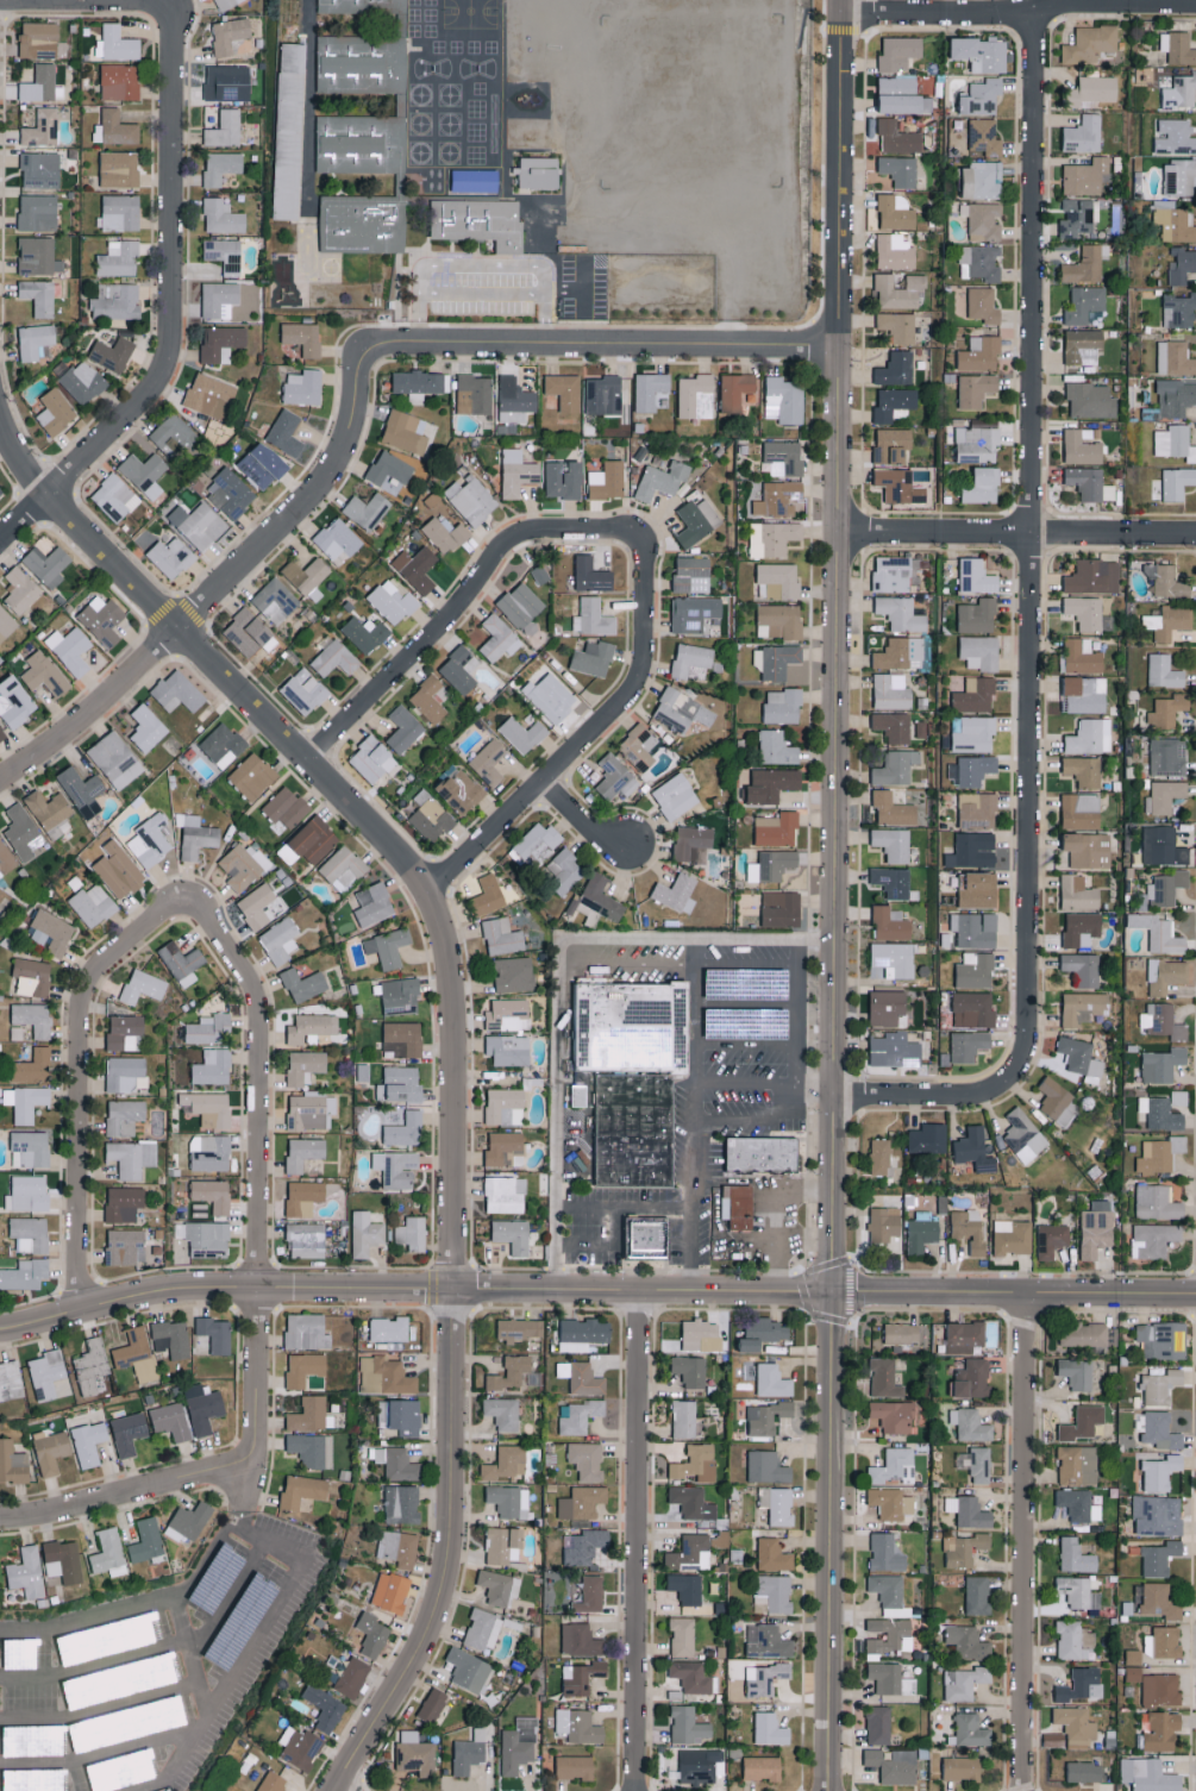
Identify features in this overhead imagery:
road: (162, 1)
building: (226, 2)
building: (361, 8)
road: (1019, 13)
building: (228, 33)
building: (37, 36)
building: (117, 43)
building: (1089, 43)
building: (1177, 46)
building: (898, 52)
building: (982, 52)
building: (361, 68)
building: (120, 81)
building: (227, 82)
building: (42, 84)
building: (1092, 89)
building: (1181, 92)
building: (902, 95)
building: (982, 96)
building: (42, 127)
building: (115, 127)
building: (225, 129)
building: (1083, 134)
building: (984, 136)
building: (1173, 136)
building: (897, 137)
building: (289, 138)
building: (359, 149)
building: (221, 165)
building: (40, 169)
building: (118, 169)
building: (898, 169)
building: (538, 171)
building: (1084, 176)
building: (1179, 176)
building: (475, 180)
building: (982, 180)
building: (38, 212)
building: (120, 212)
building: (895, 212)
building: (223, 217)
building: (1076, 217)
building: (983, 220)
building: (476, 224)
building: (1175, 224)
building: (361, 226)
building: (616, 240)
building: (895, 251)
building: (224, 253)
building: (38, 255)
building: (118, 258)
building: (979, 262)
building: (1084, 265)
building: (1181, 265)
road: (483, 269)
parking lot: (507, 288)
building: (898, 290)
building: (39, 295)
road: (519, 295)
building: (219, 299)
building: (290, 299)
building: (115, 300)
road: (169, 302)
building: (983, 303)
building: (1083, 303)
road: (586, 306)
building: (1179, 309)
road: (419, 318)
road: (547, 319)
building: (897, 326)
building: (302, 337)
building: (221, 343)
road: (601, 343)
building: (1083, 346)
building: (112, 352)
building: (979, 353)
building: (1175, 358)
building: (895, 369)
building: (83, 381)
building: (420, 383)
building: (303, 387)
building: (734, 389)
building: (975, 389)
building: (564, 390)
building: (651, 390)
building: (474, 394)
building: (209, 395)
building: (603, 395)
building: (695, 395)
building: (1175, 397)
building: (783, 399)
building: (515, 400)
building: (1090, 400)
building: (894, 403)
building: (55, 411)
building: (408, 431)
building: (174, 432)
building: (286, 432)
building: (977, 440)
building: (1175, 442)
building: (893, 444)
building: (1081, 447)
building: (783, 457)
building: (262, 466)
building: (389, 468)
building: (145, 472)
building: (516, 472)
building: (563, 478)
building: (607, 480)
building: (660, 480)
building: (1176, 482)
building: (1089, 483)
building: (898, 484)
building: (982, 486)
building: (1, 491)
building: (230, 491)
building: (114, 496)
building: (777, 497)
building: (471, 499)
building: (367, 509)
building: (696, 521)
building: (194, 524)
road: (1015, 531)
building: (445, 533)
building: (772, 538)
building: (338, 540)
building: (171, 556)
building: (48, 564)
building: (417, 568)
building: (691, 572)
building: (306, 574)
building: (539, 574)
building: (891, 574)
building: (588, 575)
building: (976, 576)
building: (1092, 576)
building: (778, 580)
building: (1166, 581)
road: (218, 587)
building: (20, 590)
building: (275, 601)
building: (392, 601)
road: (455, 605)
building: (521, 607)
building: (1085, 612)
building: (693, 613)
building: (901, 613)
building: (977, 615)
building: (593, 618)
building: (102, 620)
building: (778, 620)
building: (1167, 621)
building: (6, 624)
building: (246, 632)
building: (364, 633)
road: (1029, 637)
building: (497, 638)
road: (835, 646)
building: (70, 649)
building: (979, 652)
building: (900, 653)
building: (1081, 656)
building: (334, 658)
building: (591, 658)
building: (775, 659)
building: (691, 660)
building: (458, 669)
building: (1164, 671)
building: (44, 674)
building: (305, 690)
building: (891, 690)
building: (177, 691)
building: (1083, 694)
building: (975, 695)
building: (551, 697)
building: (428, 700)
building: (14, 701)
building: (782, 704)
building: (1167, 709)
building: (681, 710)
building: (893, 726)
building: (148, 727)
building: (403, 728)
building: (521, 733)
road: (588, 733)
building: (1, 734)
building: (975, 734)
building: (1089, 737)
building: (223, 744)
building: (639, 746)
building: (775, 747)
building: (1167, 756)
building: (115, 759)
building: (374, 759)
building: (488, 762)
building: (895, 768)
building: (971, 770)
building: (1084, 770)
building: (252, 776)
building: (615, 777)
building: (771, 784)
building: (458, 789)
building: (82, 790)
building: (675, 796)
building: (1163, 796)
road: (347, 801)
building: (893, 808)
building: (284, 809)
building: (976, 809)
building: (1081, 810)
building: (49, 812)
building: (431, 815)
road: (582, 819)
building: (776, 828)
building: (23, 832)
building: (195, 835)
building: (150, 840)
building: (311, 841)
building: (538, 843)
building: (893, 844)
building: (1161, 846)
building: (1088, 848)
building: (970, 850)
building: (6, 858)
building: (244, 865)
building: (771, 865)
building: (343, 869)
building: (118, 870)
building: (564, 870)
building: (891, 881)
building: (977, 890)
building: (676, 893)
building: (1078, 893)
building: (488, 895)
building: (599, 900)
building: (93, 904)
building: (257, 904)
building: (374, 904)
building: (781, 908)
building: (890, 923)
building: (1081, 928)
building: (973, 929)
building: (51, 932)
building: (1158, 933)
building: (501, 935)
building: (280, 939)
building: (388, 947)
road: (795, 953)
building: (893, 959)
building: (182, 963)
road: (675, 965)
building: (1083, 967)
building: (973, 970)
building: (513, 972)
building: (1166, 975)
building: (32, 976)
road: (556, 976)
building: (303, 984)
building: (143, 985)
building: (400, 996)
road: (746, 1007)
building: (1083, 1007)
building: (888, 1008)
building: (971, 1008)
building: (507, 1014)
building: (33, 1017)
building: (1163, 1020)
road: (793, 1027)
building: (208, 1028)
building: (311, 1029)
building: (631, 1031)
building: (126, 1032)
building: (402, 1039)
building: (968, 1045)
road: (745, 1047)
building: (508, 1048)
building: (894, 1048)
building: (1079, 1056)
building: (1161, 1064)
road: (77, 1065)
building: (305, 1065)
building: (33, 1066)
building: (212, 1066)
building: (126, 1073)
building: (400, 1084)
road: (744, 1085)
road: (810, 1091)
building: (578, 1095)
building: (1178, 1096)
building: (25, 1102)
building: (1058, 1102)
building: (505, 1106)
building: (208, 1108)
building: (311, 1110)
building: (1160, 1113)
road: (695, 1115)
building: (124, 1116)
road: (759, 1121)
building: (405, 1129)
building: (632, 1134)
building: (1023, 1135)
building: (926, 1140)
building: (503, 1147)
building: (30, 1148)
building: (973, 1150)
building: (209, 1152)
building: (303, 1152)
building: (1161, 1154)
building: (879, 1156)
building: (132, 1157)
building: (760, 1158)
building: (396, 1167)
road: (257, 1178)
building: (27, 1192)
building: (212, 1194)
building: (505, 1194)
building: (303, 1197)
building: (1156, 1202)
building: (124, 1203)
road: (622, 1208)
building: (199, 1209)
building: (739, 1209)
road: (779, 1215)
building: (883, 1222)
building: (969, 1228)
building: (1096, 1228)
building: (367, 1232)
building: (30, 1233)
building: (412, 1233)
building: (513, 1235)
building: (1012, 1236)
building: (208, 1239)
building: (1051, 1239)
building: (1153, 1239)
building: (306, 1240)
building: (645, 1242)
building: (125, 1246)
road: (606, 1246)
building: (25, 1273)
road: (223, 1288)
road: (1014, 1290)
road: (612, 1291)
road: (802, 1291)
traffic signals: (832, 1292)
building: (389, 1328)
building: (520, 1328)
building: (307, 1330)
building: (901, 1332)
building: (215, 1333)
building: (582, 1333)
building: (762, 1333)
building: (1083, 1333)
building: (702, 1334)
building: (964, 1336)
building: (171, 1338)
building: (1161, 1339)
building: (137, 1353)
building: (92, 1365)
building: (306, 1370)
building: (690, 1370)
building: (511, 1372)
building: (1076, 1372)
building: (49, 1374)
building: (386, 1374)
building: (581, 1376)
building: (884, 1377)
building: (971, 1378)
building: (11, 1380)
building: (772, 1380)
building: (1160, 1385)
building: (203, 1407)
building: (503, 1411)
building: (311, 1414)
building: (401, 1415)
building: (577, 1415)
building: (895, 1415)
building: (766, 1416)
building: (684, 1419)
building: (171, 1420)
building: (1083, 1422)
building: (970, 1423)
building: (1160, 1429)
building: (129, 1433)
building: (89, 1441)
building: (309, 1447)
building: (51, 1449)
building: (587, 1459)
building: (12, 1461)
building: (396, 1463)
building: (506, 1463)
building: (696, 1463)
building: (976, 1463)
building: (1077, 1464)
building: (895, 1465)
building: (766, 1466)
building: (1160, 1471)
building: (302, 1489)
road: (125, 1495)
building: (509, 1499)
building: (582, 1501)
building: (691, 1502)
building: (890, 1502)
building: (401, 1503)
building: (777, 1504)
building: (1078, 1504)
building: (968, 1510)
building: (1154, 1516)
building: (188, 1521)
building: (146, 1539)
road: (217, 1540)
road: (1021, 1540)
road: (635, 1541)
road: (829, 1541)
road: (259, 1542)
building: (503, 1545)
building: (583, 1545)
building: (397, 1547)
building: (964, 1547)
building: (690, 1552)
building: (885, 1552)
building: (108, 1553)
building: (774, 1554)
road: (446, 1555)
building: (1075, 1555)
building: (1159, 1557)
building: (63, 1560)
building: (27, 1571)
building: (499, 1586)
building: (685, 1586)
building: (887, 1589)
building: (390, 1590)
building: (774, 1591)
building: (1077, 1591)
building: (589, 1593)
building: (977, 1593)
building: (1159, 1601)
road: (93, 1618)
building: (482, 1628)
building: (134, 1629)
building: (372, 1634)
building: (682, 1635)
building: (888, 1636)
building: (580, 1639)
building: (1073, 1639)
building: (768, 1640)
building: (968, 1641)
building: (1163, 1641)
building: (75, 1646)
road: (190, 1654)
parking lot: (154, 1664)
building: (1133, 1664)
building: (468, 1668)
building: (352, 1676)
building: (581, 1676)
building: (690, 1676)
building: (764, 1677)
building: (888, 1677)
building: (964, 1682)
building: (1082, 1684)
building: (1160, 1689)
building: (82, 1690)
building: (432, 1704)
road: (100, 1707)
building: (325, 1707)
building: (688, 1724)
building: (878, 1724)
building: (578, 1726)
building: (1076, 1726)
building: (769, 1728)
building: (969, 1728)
building: (1160, 1729)
building: (518, 1745)
building: (300, 1746)
road: (100, 1753)
building: (415, 1753)
building: (468, 1753)
building: (140, 1764)
building: (697, 1764)
building: (893, 1765)
building: (575, 1766)
building: (762, 1767)
building: (960, 1767)
building: (1084, 1771)
building: (1148, 1774)
building: (273, 1781)
road: (143, 1785)

